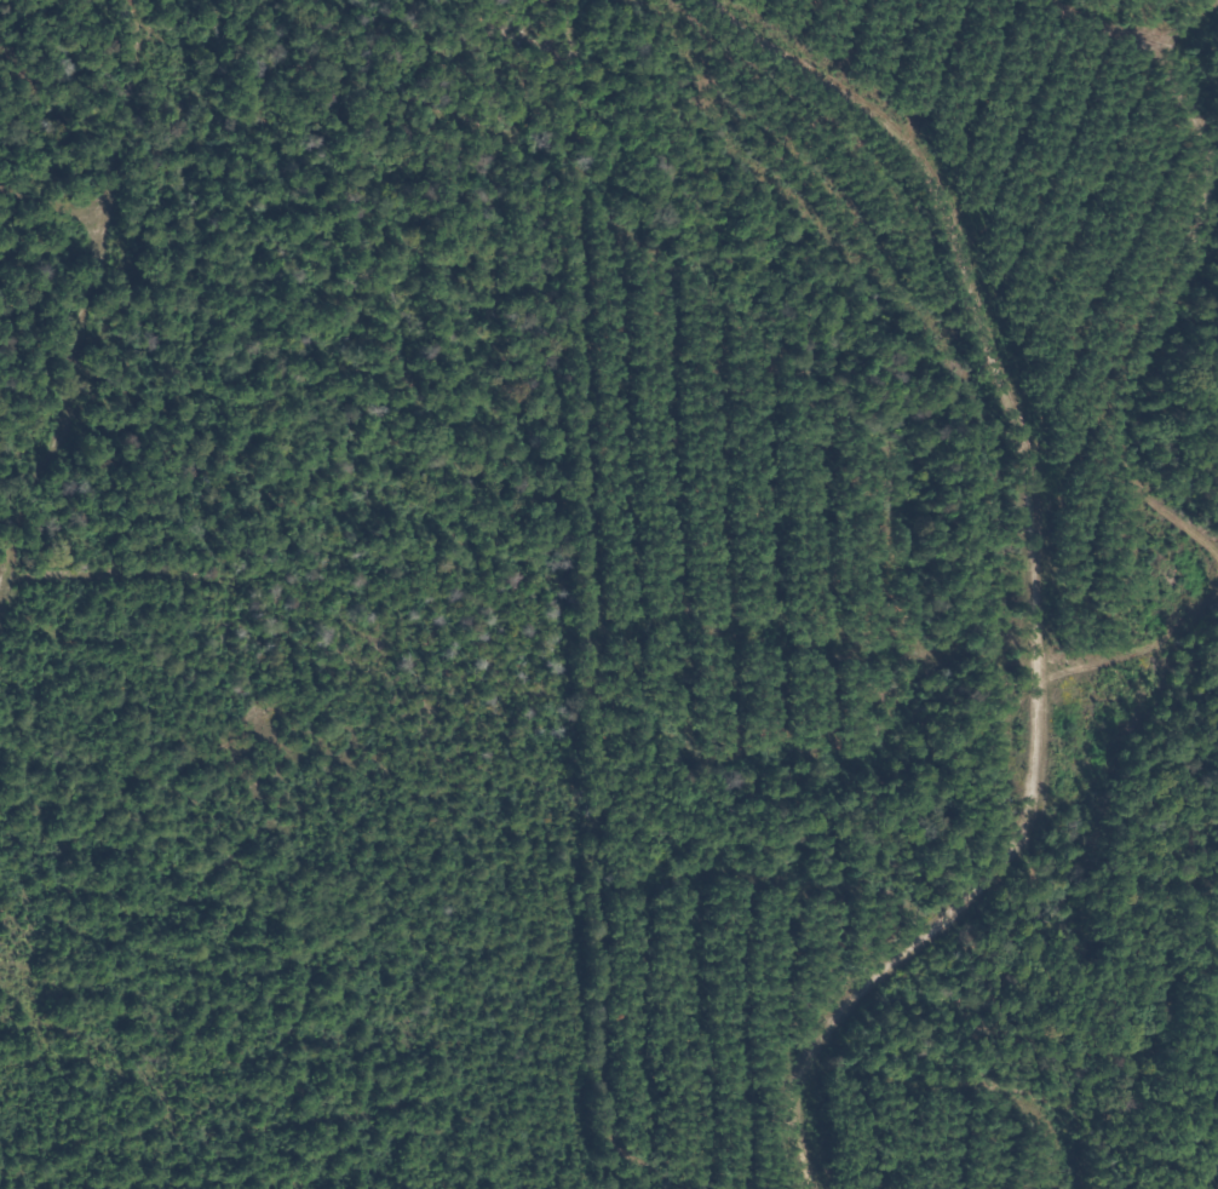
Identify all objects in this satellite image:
road: (1044, 563)

